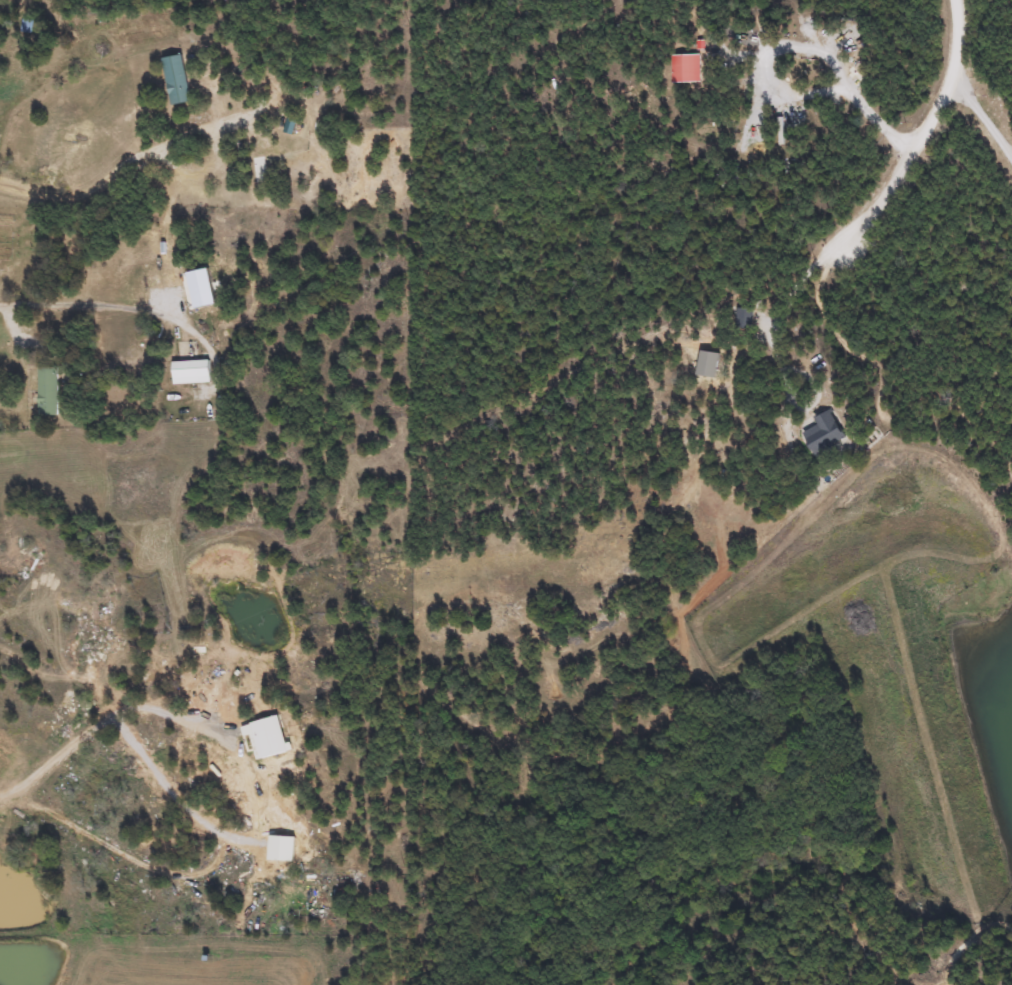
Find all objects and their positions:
building: (176, 80)
road: (981, 123)
road: (874, 125)
road: (919, 134)
road: (106, 176)
road: (113, 305)
road: (778, 313)
building: (742, 318)
building: (190, 372)
building: (46, 391)
building: (823, 432)
building: (249, 689)
road: (100, 728)

